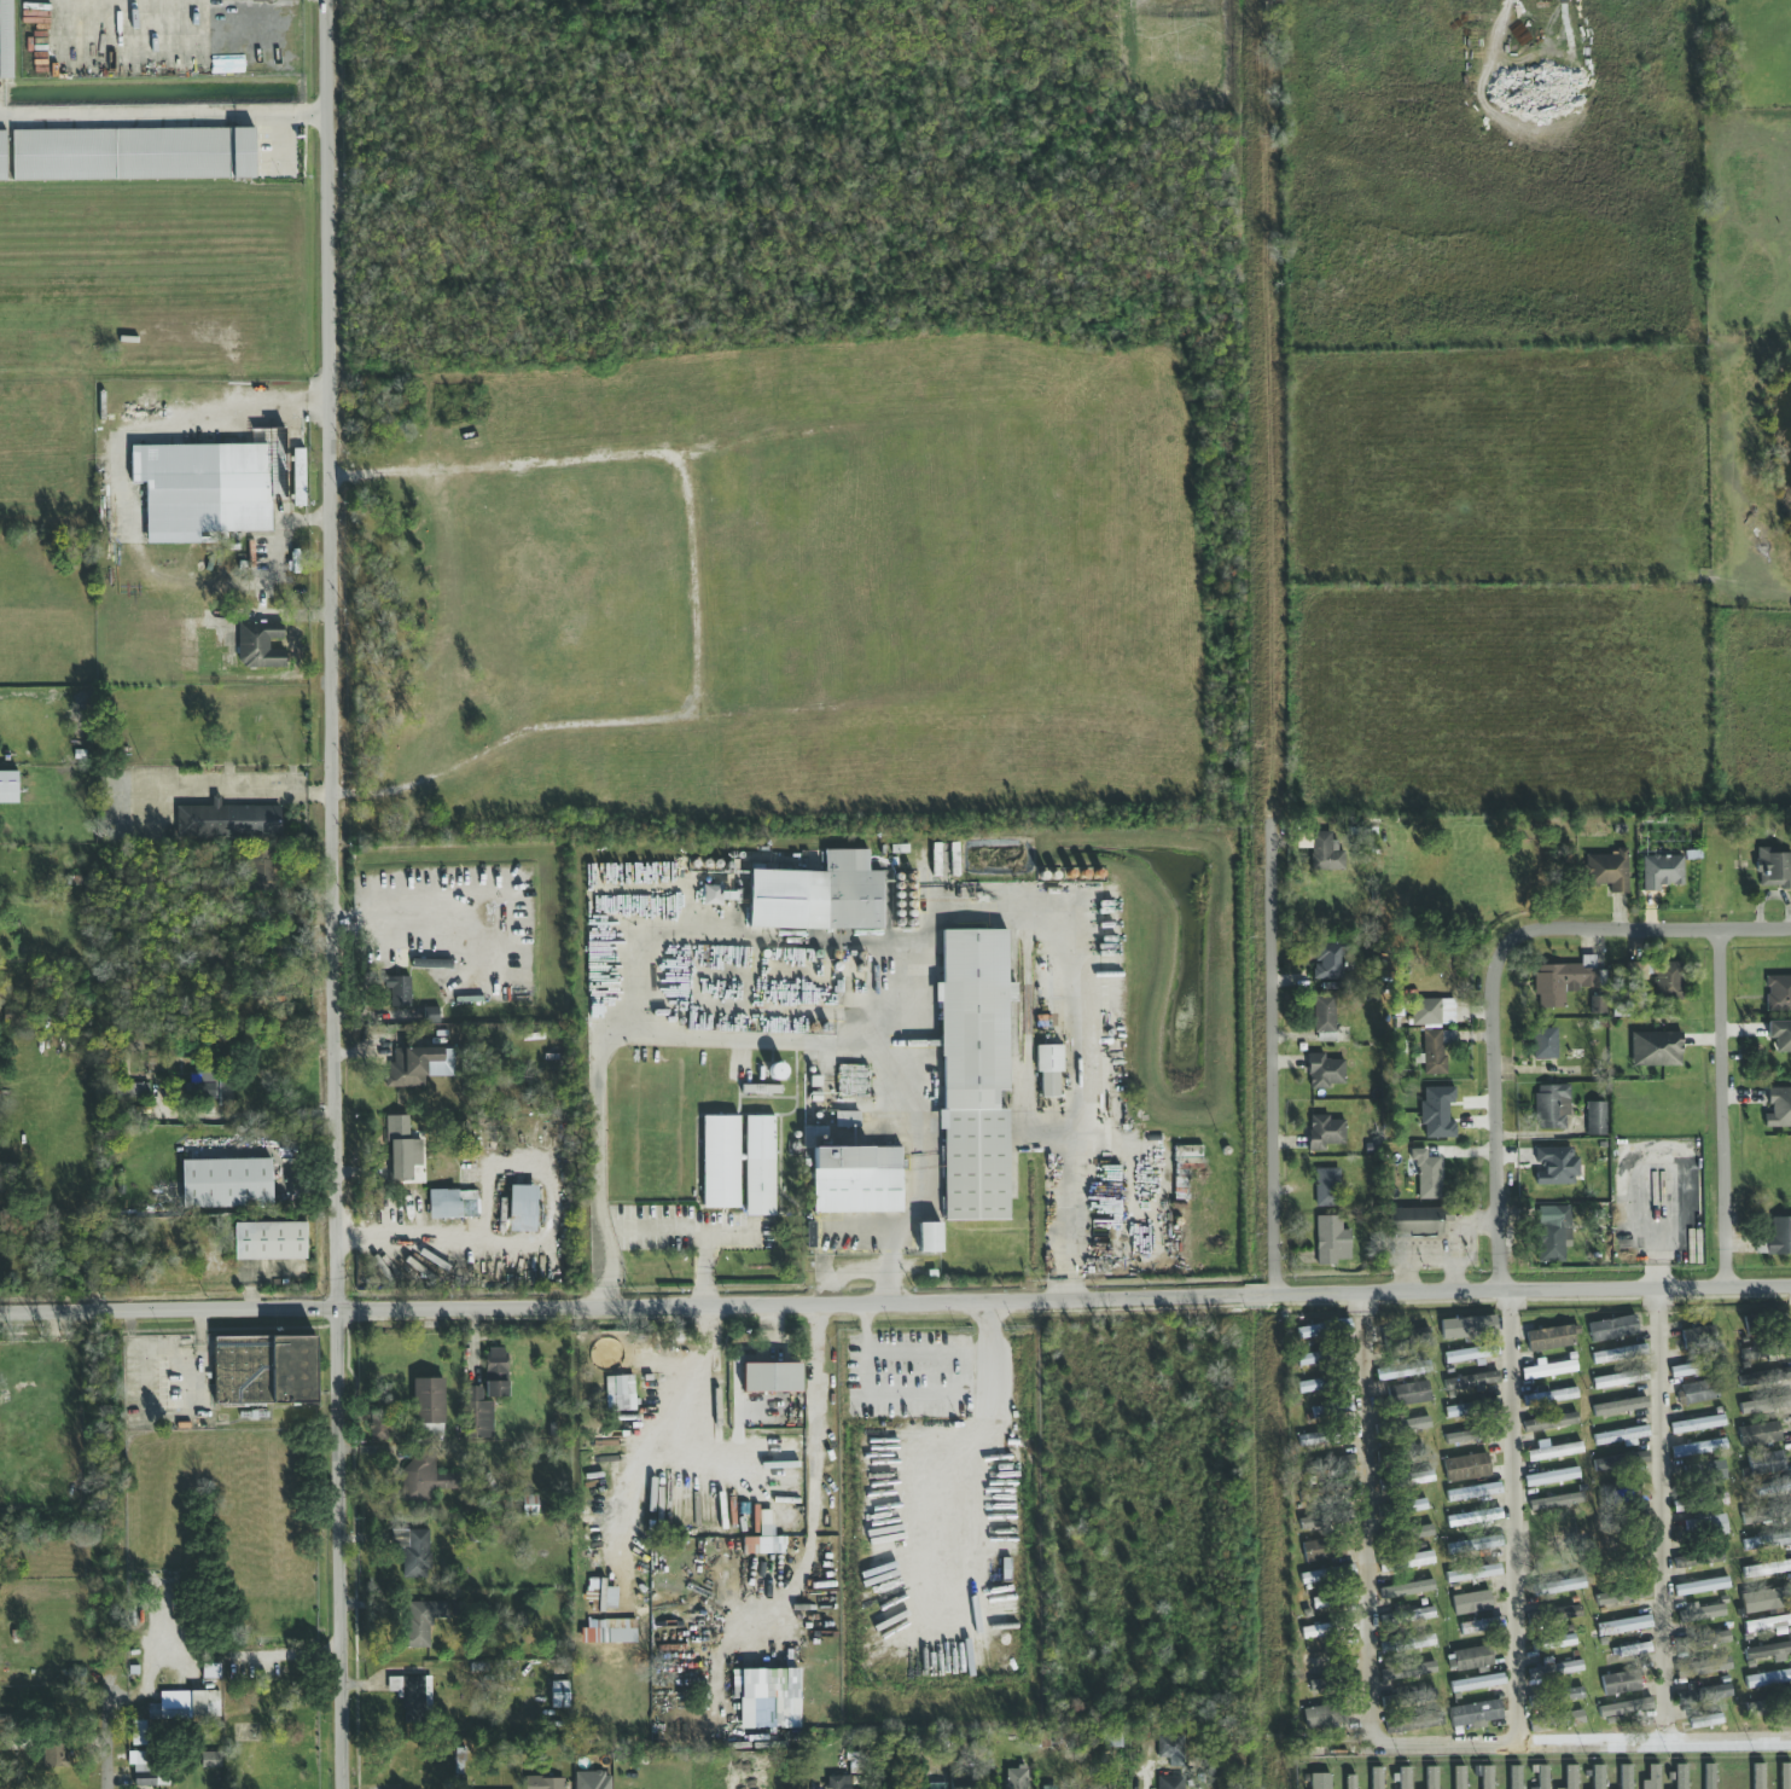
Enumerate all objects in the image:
building: (5, 39)
road: (163, 115)
road: (278, 145)
building: (133, 153)
building: (2, 156)
road: (1268, 405)
road: (161, 428)
road: (281, 464)
building: (298, 477)
building: (202, 489)
building: (258, 645)
building: (7, 786)
road: (237, 794)
building: (228, 820)
building: (1324, 853)
building: (953, 859)
building: (935, 860)
building: (266, 867)
building: (1773, 867)
building: (1609, 870)
building: (1661, 872)
road: (332, 894)
building: (711, 895)
building: (818, 895)
road: (449, 898)
road: (990, 910)
road: (1604, 928)
building: (1327, 962)
building: (431, 964)
building: (1667, 978)
building: (1565, 981)
building: (400, 991)
building: (1778, 993)
building: (1425, 1012)
building: (431, 1015)
building: (1324, 1015)
building: (1779, 1034)
road: (633, 1035)
building: (1546, 1044)
building: (1656, 1049)
building: (1435, 1051)
road: (1270, 1053)
building: (418, 1065)
building: (1048, 1069)
building: (1325, 1071)
building: (973, 1074)
building: (851, 1080)
building: (210, 1087)
building: (761, 1088)
building: (136, 1090)
building: (1551, 1106)
road: (1726, 1108)
building: (1779, 1108)
road: (279, 1113)
building: (1437, 1113)
building: (1595, 1117)
building: (847, 1119)
building: (1324, 1132)
building: (814, 1137)
building: (490, 1138)
building: (401, 1149)
building: (1186, 1158)
road: (1498, 1160)
building: (720, 1162)
building: (758, 1166)
building: (1556, 1166)
building: (1426, 1174)
building: (856, 1180)
building: (226, 1183)
building: (1326, 1187)
building: (450, 1204)
building: (522, 1208)
building: (1417, 1220)
building: (1553, 1232)
building: (1779, 1236)
building: (929, 1237)
building: (268, 1241)
building: (1331, 1241)
road: (605, 1296)
road: (895, 1302)
building: (1751, 1323)
building: (1339, 1325)
building: (1469, 1328)
building: (1613, 1329)
building: (1309, 1331)
building: (1704, 1336)
building: (1417, 1337)
building: (1551, 1337)
building: (1764, 1352)
road: (928, 1354)
building: (1620, 1354)
building: (1308, 1359)
building: (1697, 1367)
building: (1548, 1369)
building: (1402, 1370)
building: (263, 1371)
building: (1766, 1377)
building: (769, 1378)
building: (1621, 1379)
building: (1481, 1381)
building: (1310, 1387)
building: (1699, 1390)
building: (620, 1393)
building: (487, 1394)
building: (1405, 1394)
building: (1547, 1398)
building: (428, 1405)
building: (1764, 1405)
building: (1620, 1406)
building: (1470, 1407)
building: (1332, 1408)
building: (1551, 1422)
building: (1413, 1424)
building: (1697, 1424)
building: (382, 1427)
building: (1472, 1434)
building: (1760, 1435)
building: (1332, 1436)
building: (1621, 1436)
building: (1312, 1439)
building: (1699, 1448)
building: (1554, 1450)
road: (756, 1451)
building: (1413, 1451)
building: (1621, 1462)
building: (1766, 1463)
building: (1326, 1465)
building: (1466, 1466)
building: (1700, 1475)
building: (1552, 1476)
building: (419, 1477)
building: (1409, 1479)
building: (1773, 1487)
building: (1473, 1492)
building: (1320, 1493)
building: (1621, 1493)
building: (1559, 1499)
building: (1700, 1502)
building: (530, 1505)
building: (1402, 1508)
building: (1786, 1511)
road: (1662, 1515)
building: (1758, 1516)
building: (1475, 1517)
road: (1513, 1517)
building: (1324, 1518)
road: (1367, 1518)
building: (1709, 1527)
building: (1413, 1529)
building: (1423, 1532)
road: (813, 1533)
building: (1767, 1540)
road: (1275, 1543)
building: (763, 1545)
building: (1473, 1545)
road: (107, 1550)
building: (1316, 1551)
building: (417, 1553)
building: (1698, 1559)
building: (1406, 1561)
building: (1767, 1568)
building: (1479, 1573)
building: (1327, 1575)
building: (1559, 1586)
building: (1700, 1586)
building: (1407, 1588)
building: (600, 1593)
building: (1344, 1597)
building: (1623, 1598)
building: (1764, 1601)
building: (1471, 1602)
building: (1313, 1603)
building: (1700, 1614)
building: (1558, 1615)
building: (1408, 1616)
building: (1768, 1622)
building: (418, 1625)
building: (1482, 1625)
building: (1623, 1625)
building: (609, 1632)
building: (1314, 1632)
building: (1708, 1639)
building: (1554, 1642)
building: (1406, 1644)
building: (1635, 1648)
building: (1768, 1651)
building: (1472, 1657)
building: (1314, 1659)
building: (1703, 1667)
building: (1558, 1668)
building: (210, 1671)
building: (1408, 1672)
building: (1767, 1678)
building: (1620, 1681)
building: (1334, 1683)
building: (1477, 1683)
building: (763, 1695)
building: (1571, 1695)
building: (1704, 1695)
building: (557, 1696)
building: (411, 1697)
building: (205, 1703)
building: (1624, 1708)
building: (1756, 1708)
building: (1330, 1710)
building: (1475, 1713)
building: (165, 1714)
building: (1403, 1719)
building: (1705, 1720)
building: (1556, 1721)
building: (136, 1733)
road: (1582, 1744)
building: (1170, 1746)
building: (53, 1755)
building: (210, 1760)
building: (144, 1775)
building: (1483, 1776)
building: (1708, 1776)
building: (1757, 1776)
building: (1785, 1776)
building: (1431, 1777)
building: (1514, 1777)
building: (1542, 1777)
building: (1570, 1777)
building: (1598, 1777)
building: (1624, 1777)
building: (1653, 1777)
building: (1680, 1777)
building: (1376, 1778)
building: (1403, 1778)
building: (1458, 1778)
building: (1014, 1779)
building: (592, 1781)
building: (1320, 1781)
building: (1349, 1782)
building: (545, 1783)
building: (837, 1783)
building: (1170, 1783)
building: (941, 1784)
building: (1048, 1788)

